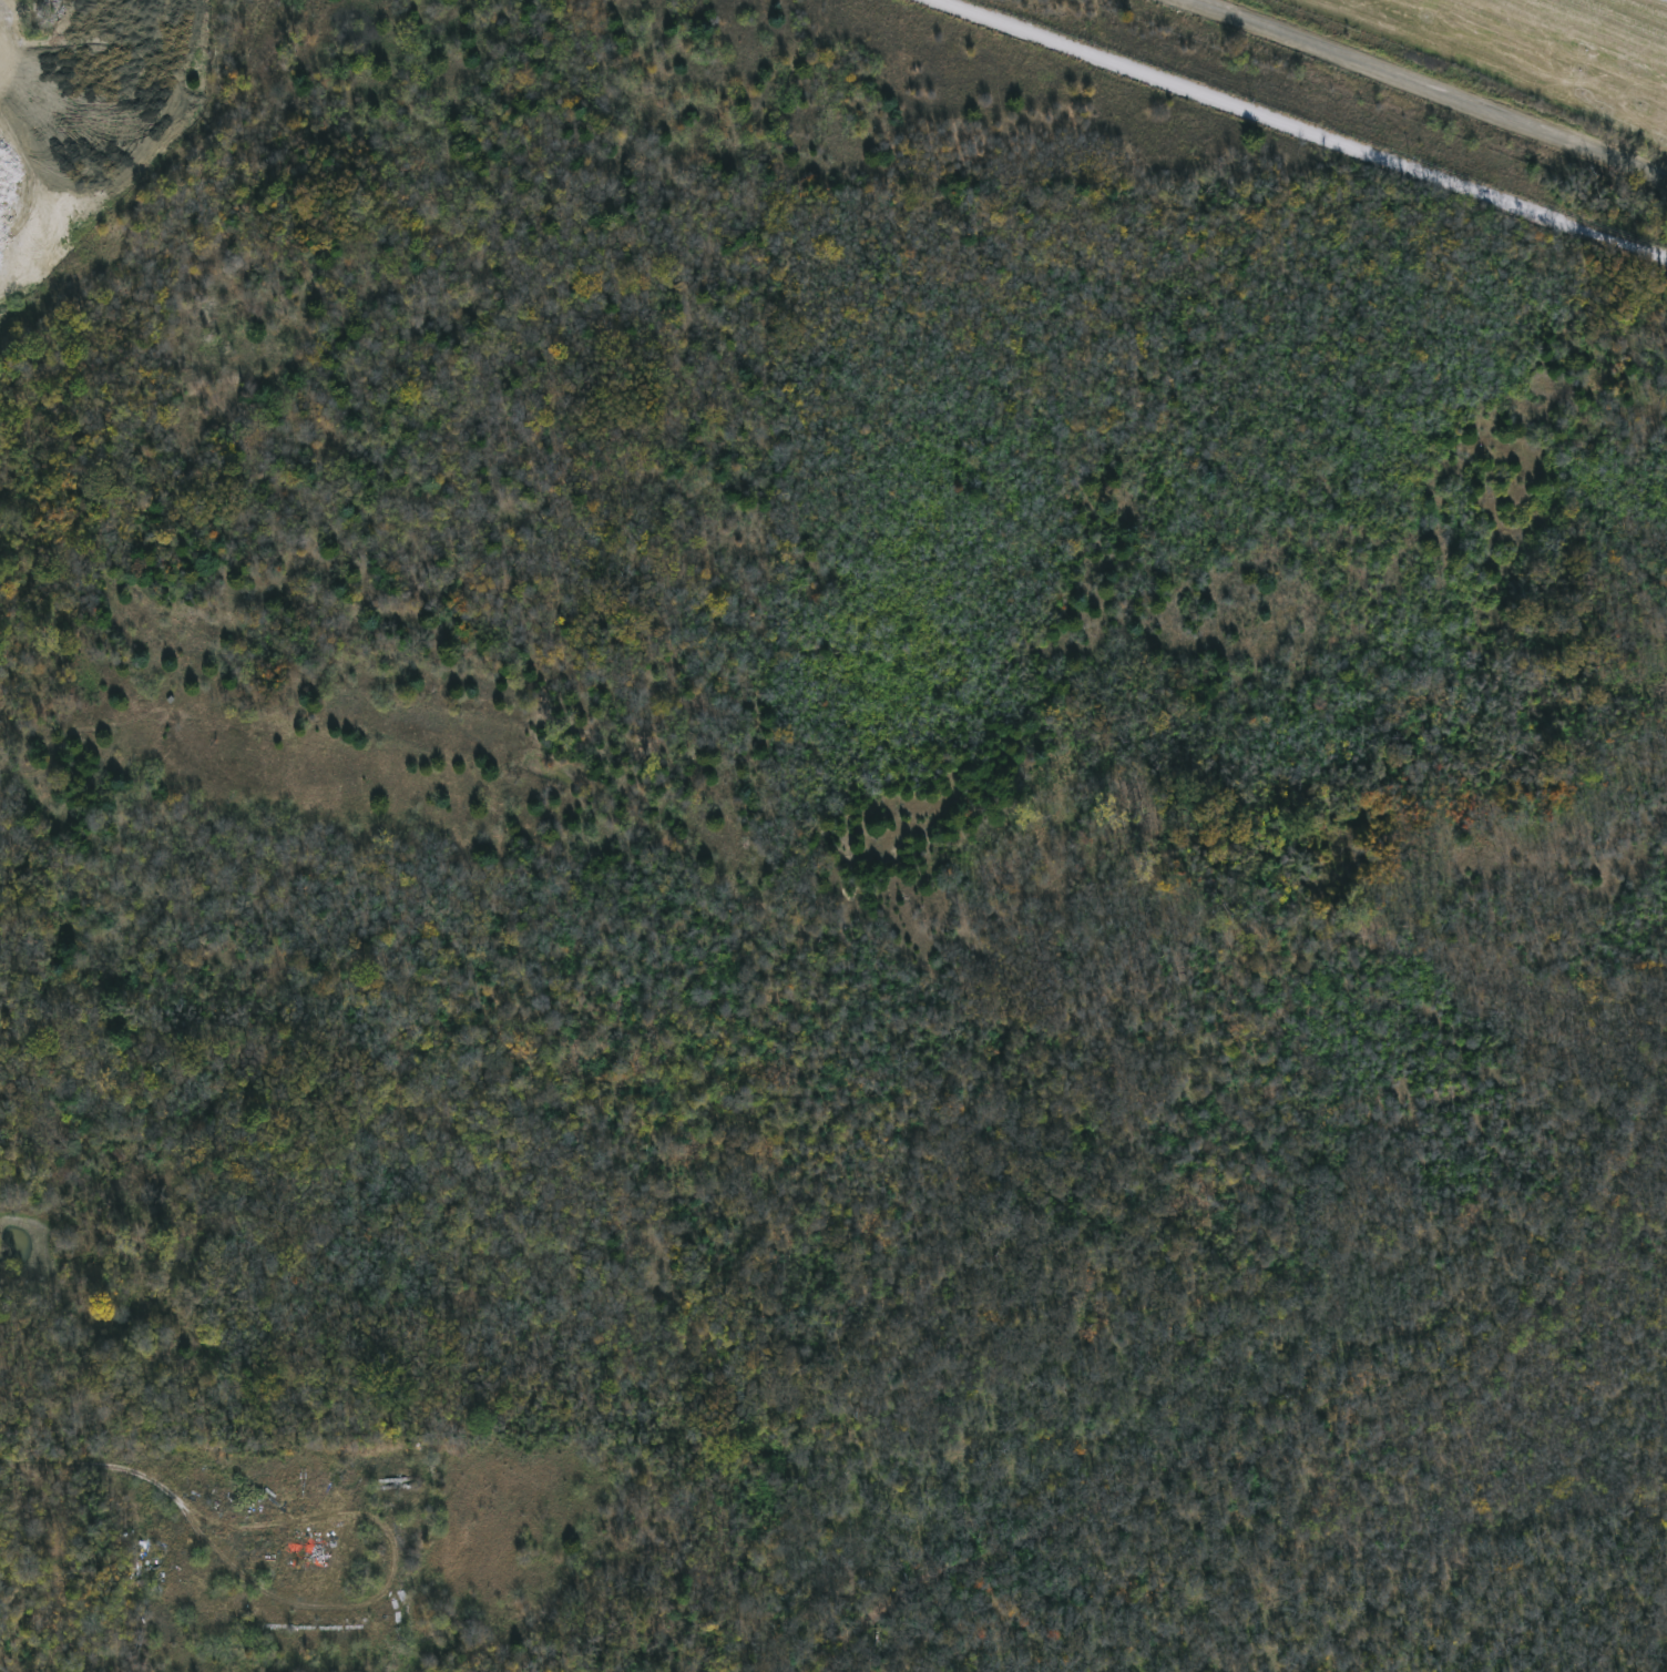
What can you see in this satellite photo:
dam: (1576, 37)
road: (1433, 84)
road: (93, 1467)
road: (391, 1574)

